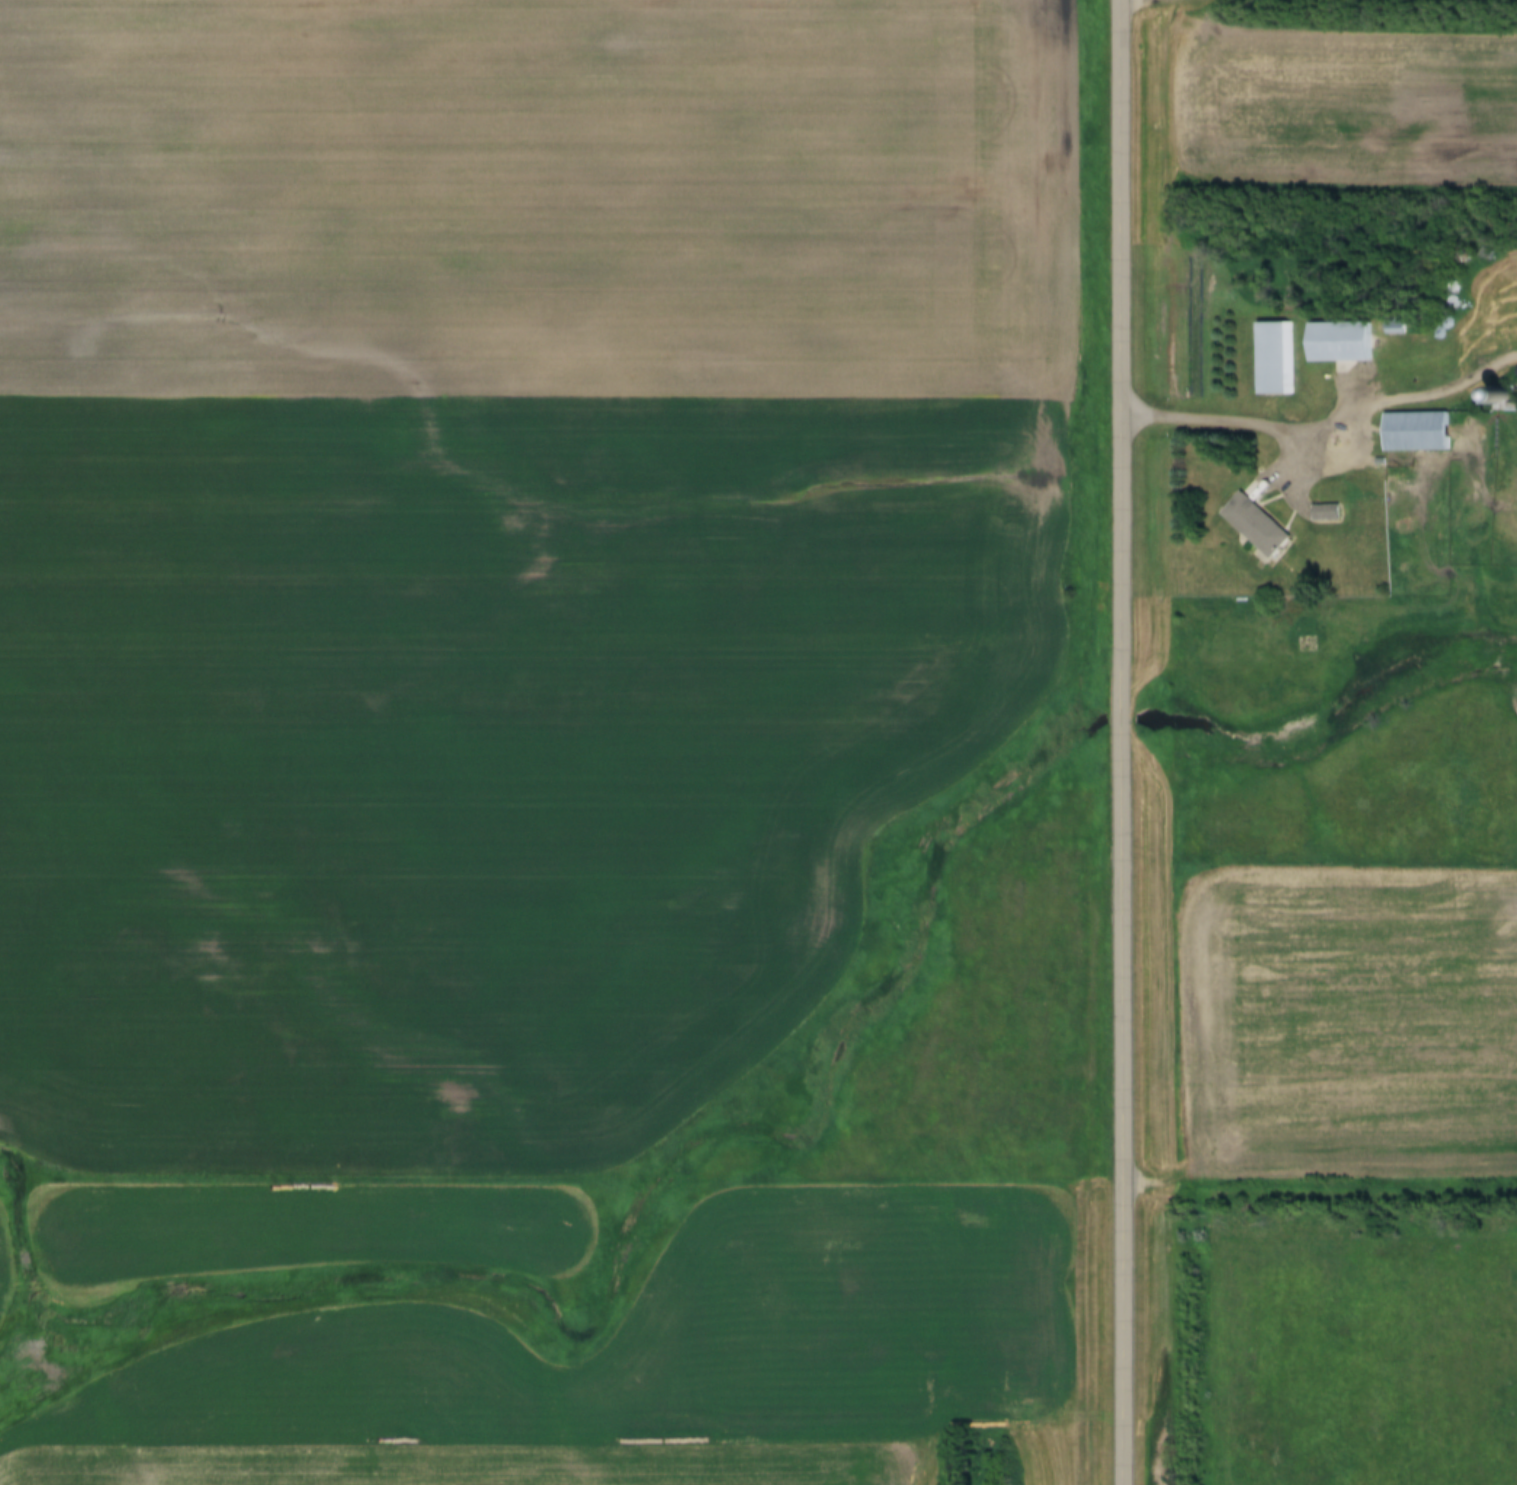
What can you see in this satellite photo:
building: (1335, 341)
building: (1272, 357)
road: (1326, 430)
building: (1413, 432)
building: (1321, 513)
building: (1252, 524)
road: (1125, 742)

